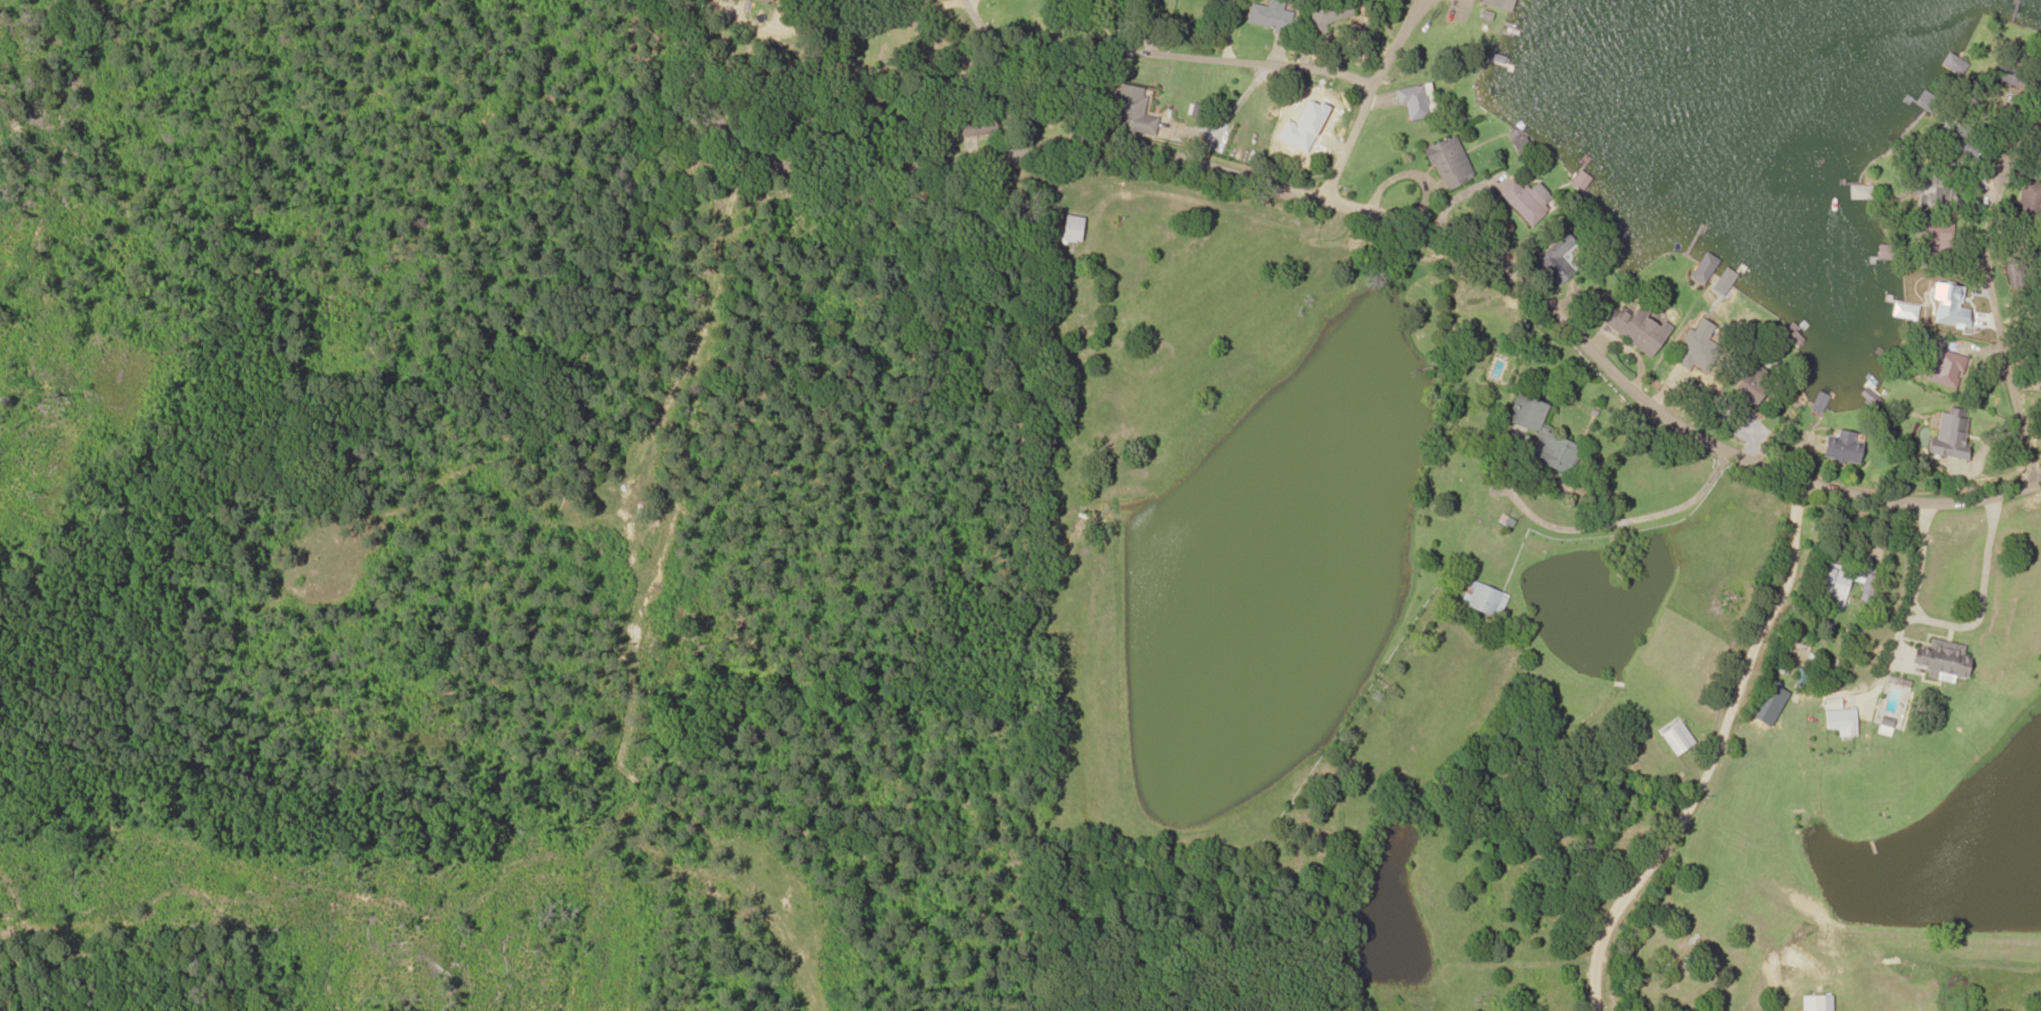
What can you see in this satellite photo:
building: (768, 0)
building: (1379, 0)
building: (1502, 4)
building: (1326, 10)
building: (1272, 14)
road: (1157, 55)
building: (1958, 66)
building: (2012, 77)
road: (1368, 92)
building: (1415, 101)
building: (1133, 109)
building: (979, 120)
building: (1962, 145)
building: (1450, 164)
building: (1582, 181)
building: (1935, 189)
building: (1860, 192)
building: (2029, 200)
building: (1525, 201)
road: (1347, 205)
building: (1074, 229)
building: (1937, 235)
building: (1558, 260)
building: (1723, 283)
road: (1996, 307)
building: (1639, 328)
building: (1795, 333)
building: (1702, 345)
road: (694, 370)
building: (1751, 390)
building: (1819, 403)
building: (1952, 435)
building: (1543, 436)
building: (1844, 448)
building: (1834, 585)
building: (1868, 587)
building: (1484, 599)
building: (1944, 658)
building: (1840, 716)
building: (1886, 726)
building: (1678, 738)
road: (1711, 756)
road: (519, 792)
building: (1818, 1002)

